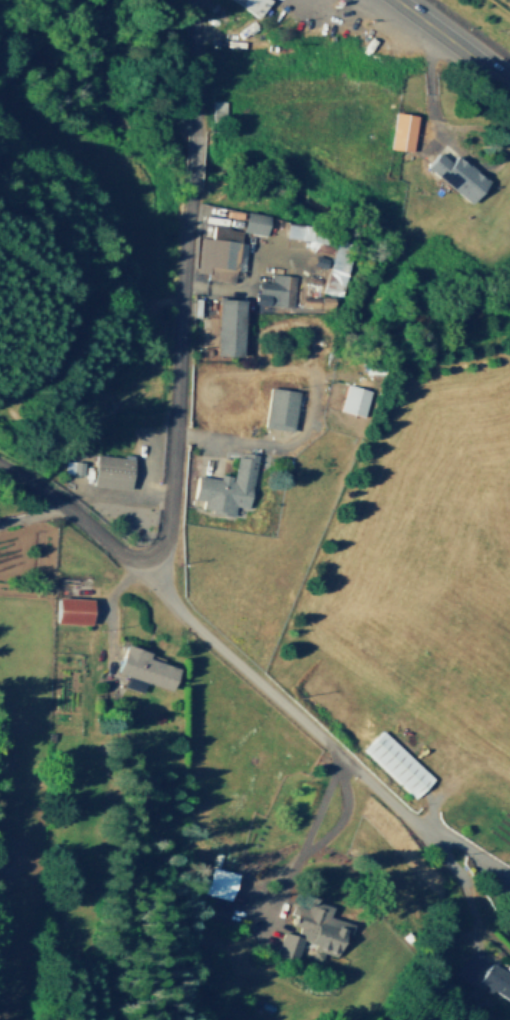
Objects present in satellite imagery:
road: (293, 0)
building: (251, 5)
crop: (503, 5)
parking lot: (354, 21)
road: (378, 21)
road: (453, 42)
road: (194, 60)
building: (216, 108)
building: (401, 129)
road: (456, 152)
road: (191, 155)
building: (463, 183)
building: (204, 213)
building: (237, 215)
building: (262, 221)
building: (297, 228)
building: (274, 238)
building: (273, 249)
building: (219, 251)
building: (288, 254)
building: (275, 263)
building: (339, 264)
building: (299, 273)
road: (239, 286)
building: (277, 288)
road: (33, 295)
building: (223, 322)
road: (176, 388)
building: (353, 397)
building: (279, 405)
road: (271, 446)
building: (103, 468)
building: (226, 485)
road: (87, 486)
road: (125, 489)
road: (151, 490)
road: (91, 491)
road: (32, 512)
road: (146, 551)
building: (70, 607)
road: (110, 623)
road: (203, 632)
building: (143, 668)
building: (397, 761)
road: (341, 816)
road: (416, 824)
road: (306, 833)
building: (217, 880)
road: (254, 902)
road: (276, 904)
building: (218, 909)
building: (232, 912)
building: (508, 919)
building: (316, 922)
road: (492, 934)
building: (286, 943)
building: (468, 965)
building: (202, 968)
building: (495, 978)

